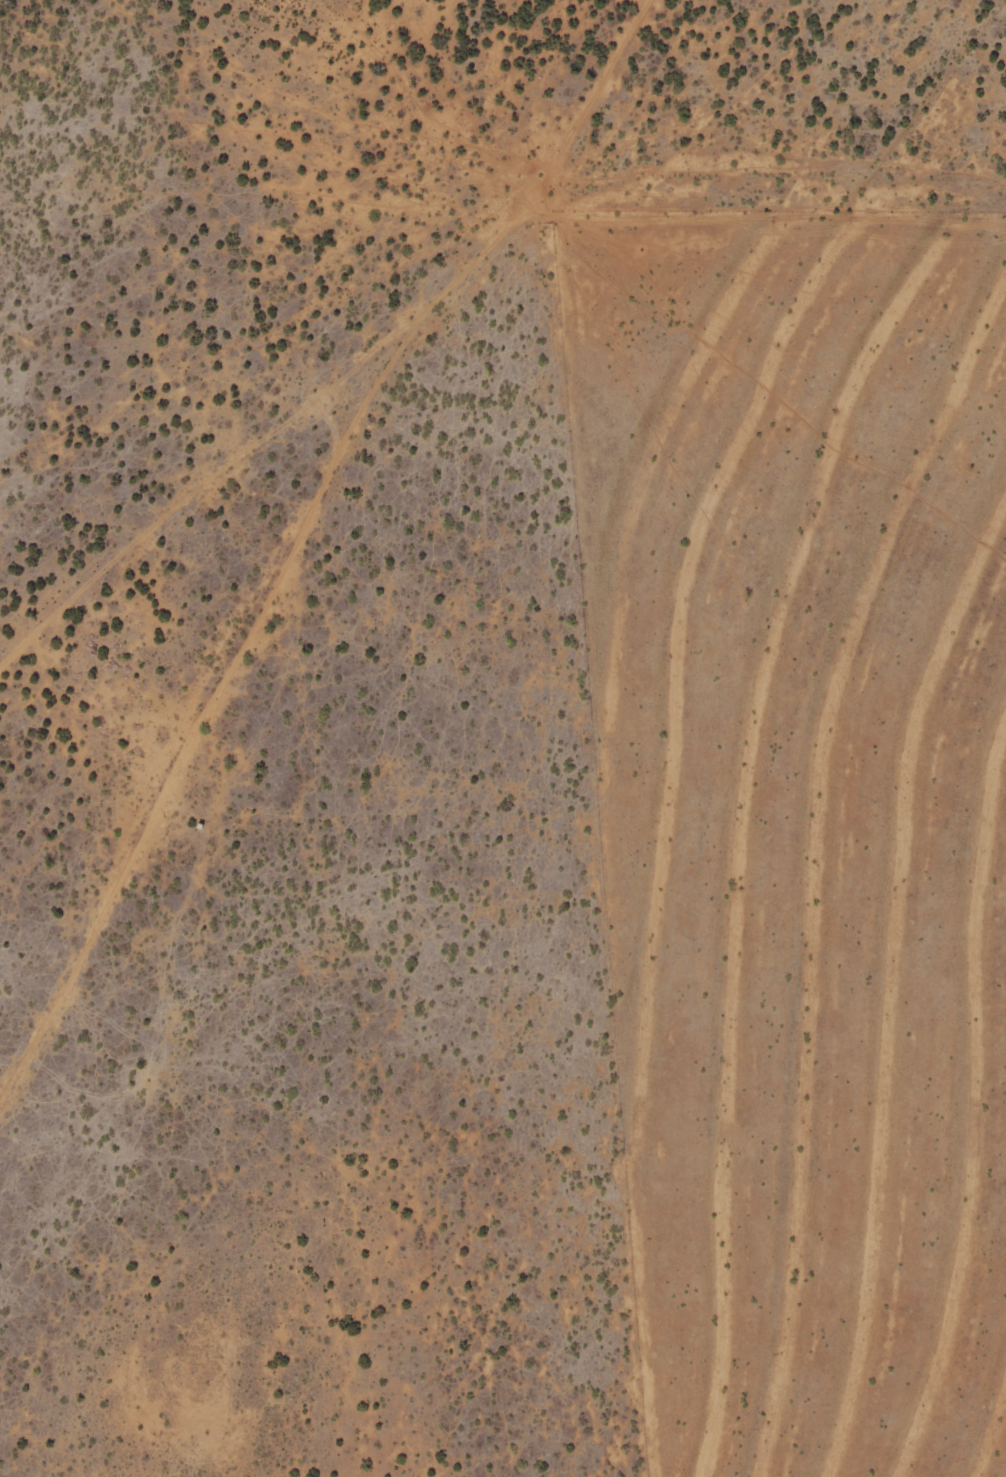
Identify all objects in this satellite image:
road: (616, 89)
road: (399, 463)

